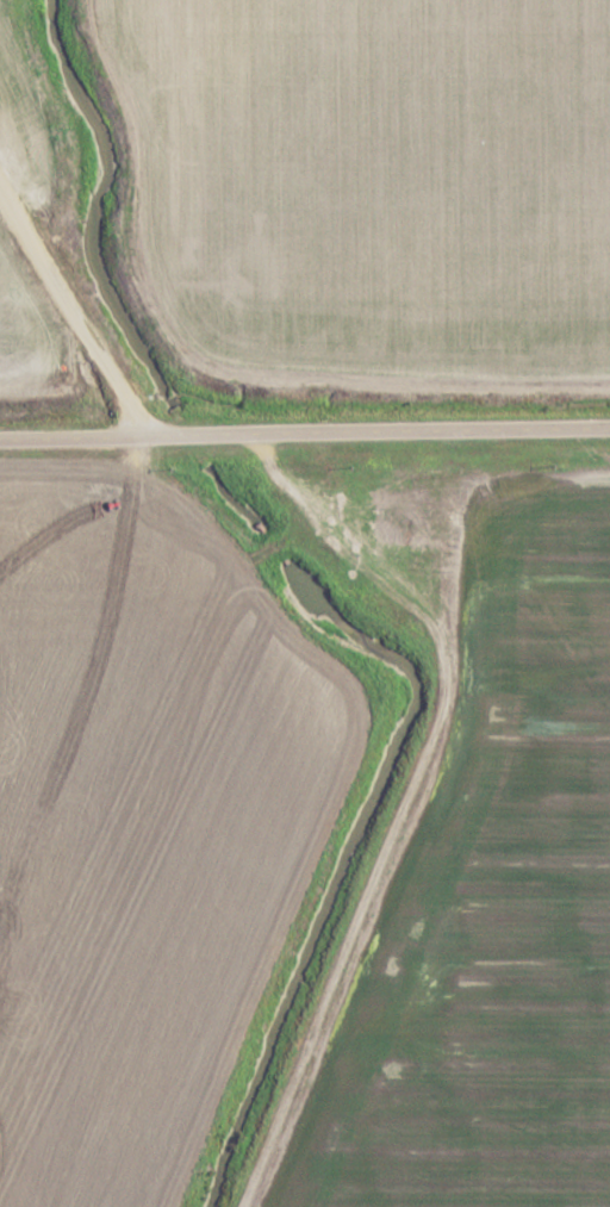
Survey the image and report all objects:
road: (86, 336)
road: (402, 431)
road: (82, 442)

